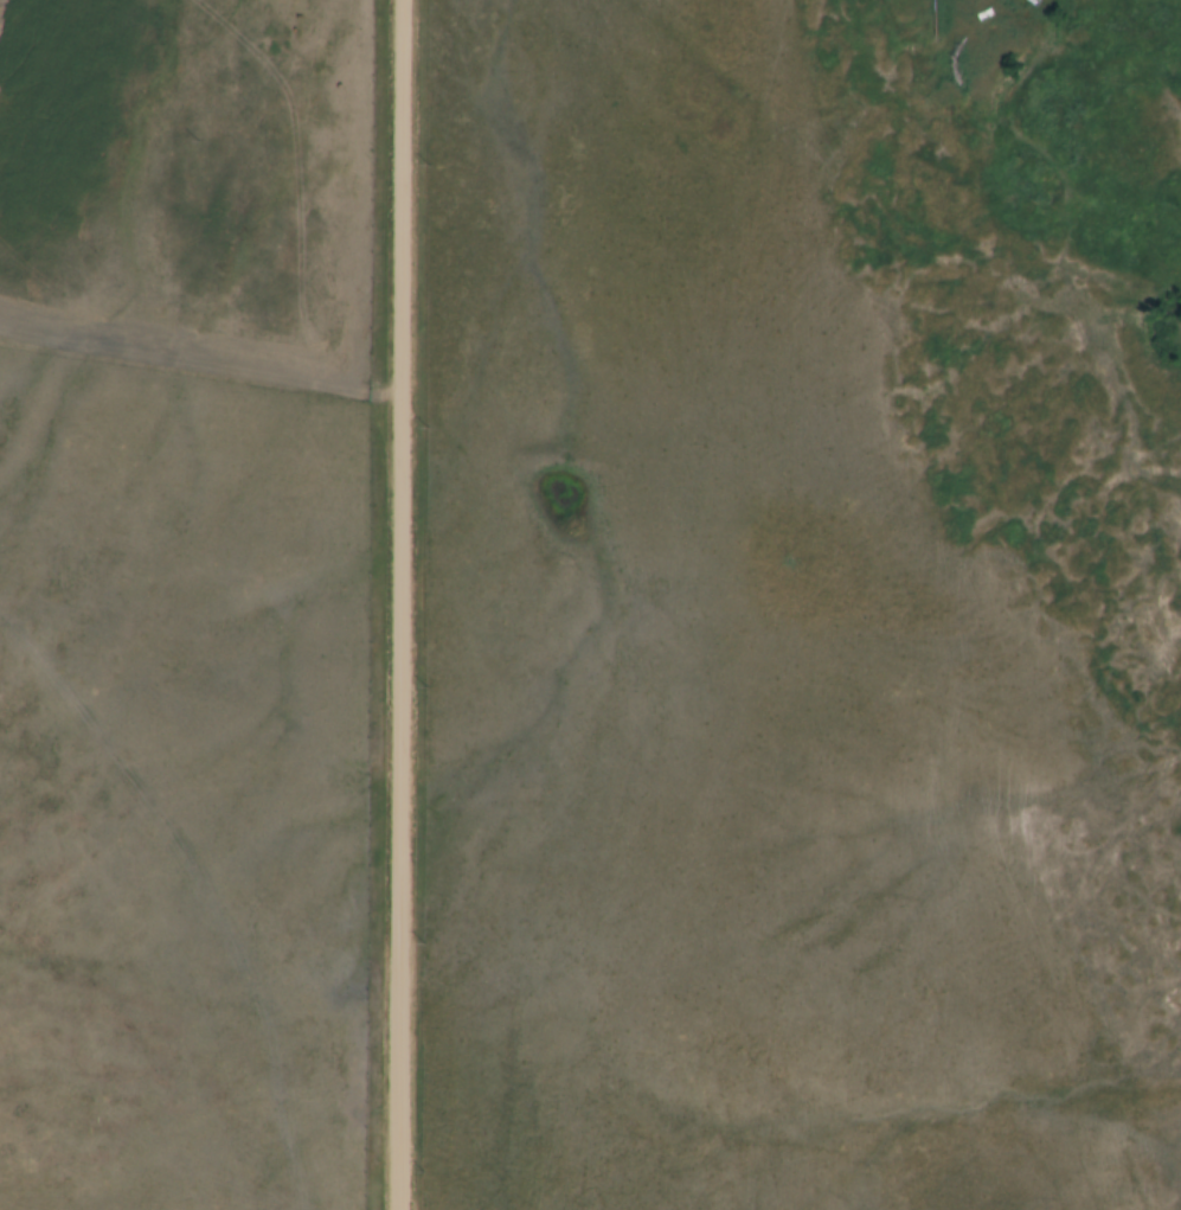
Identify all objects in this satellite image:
road: (399, 604)

